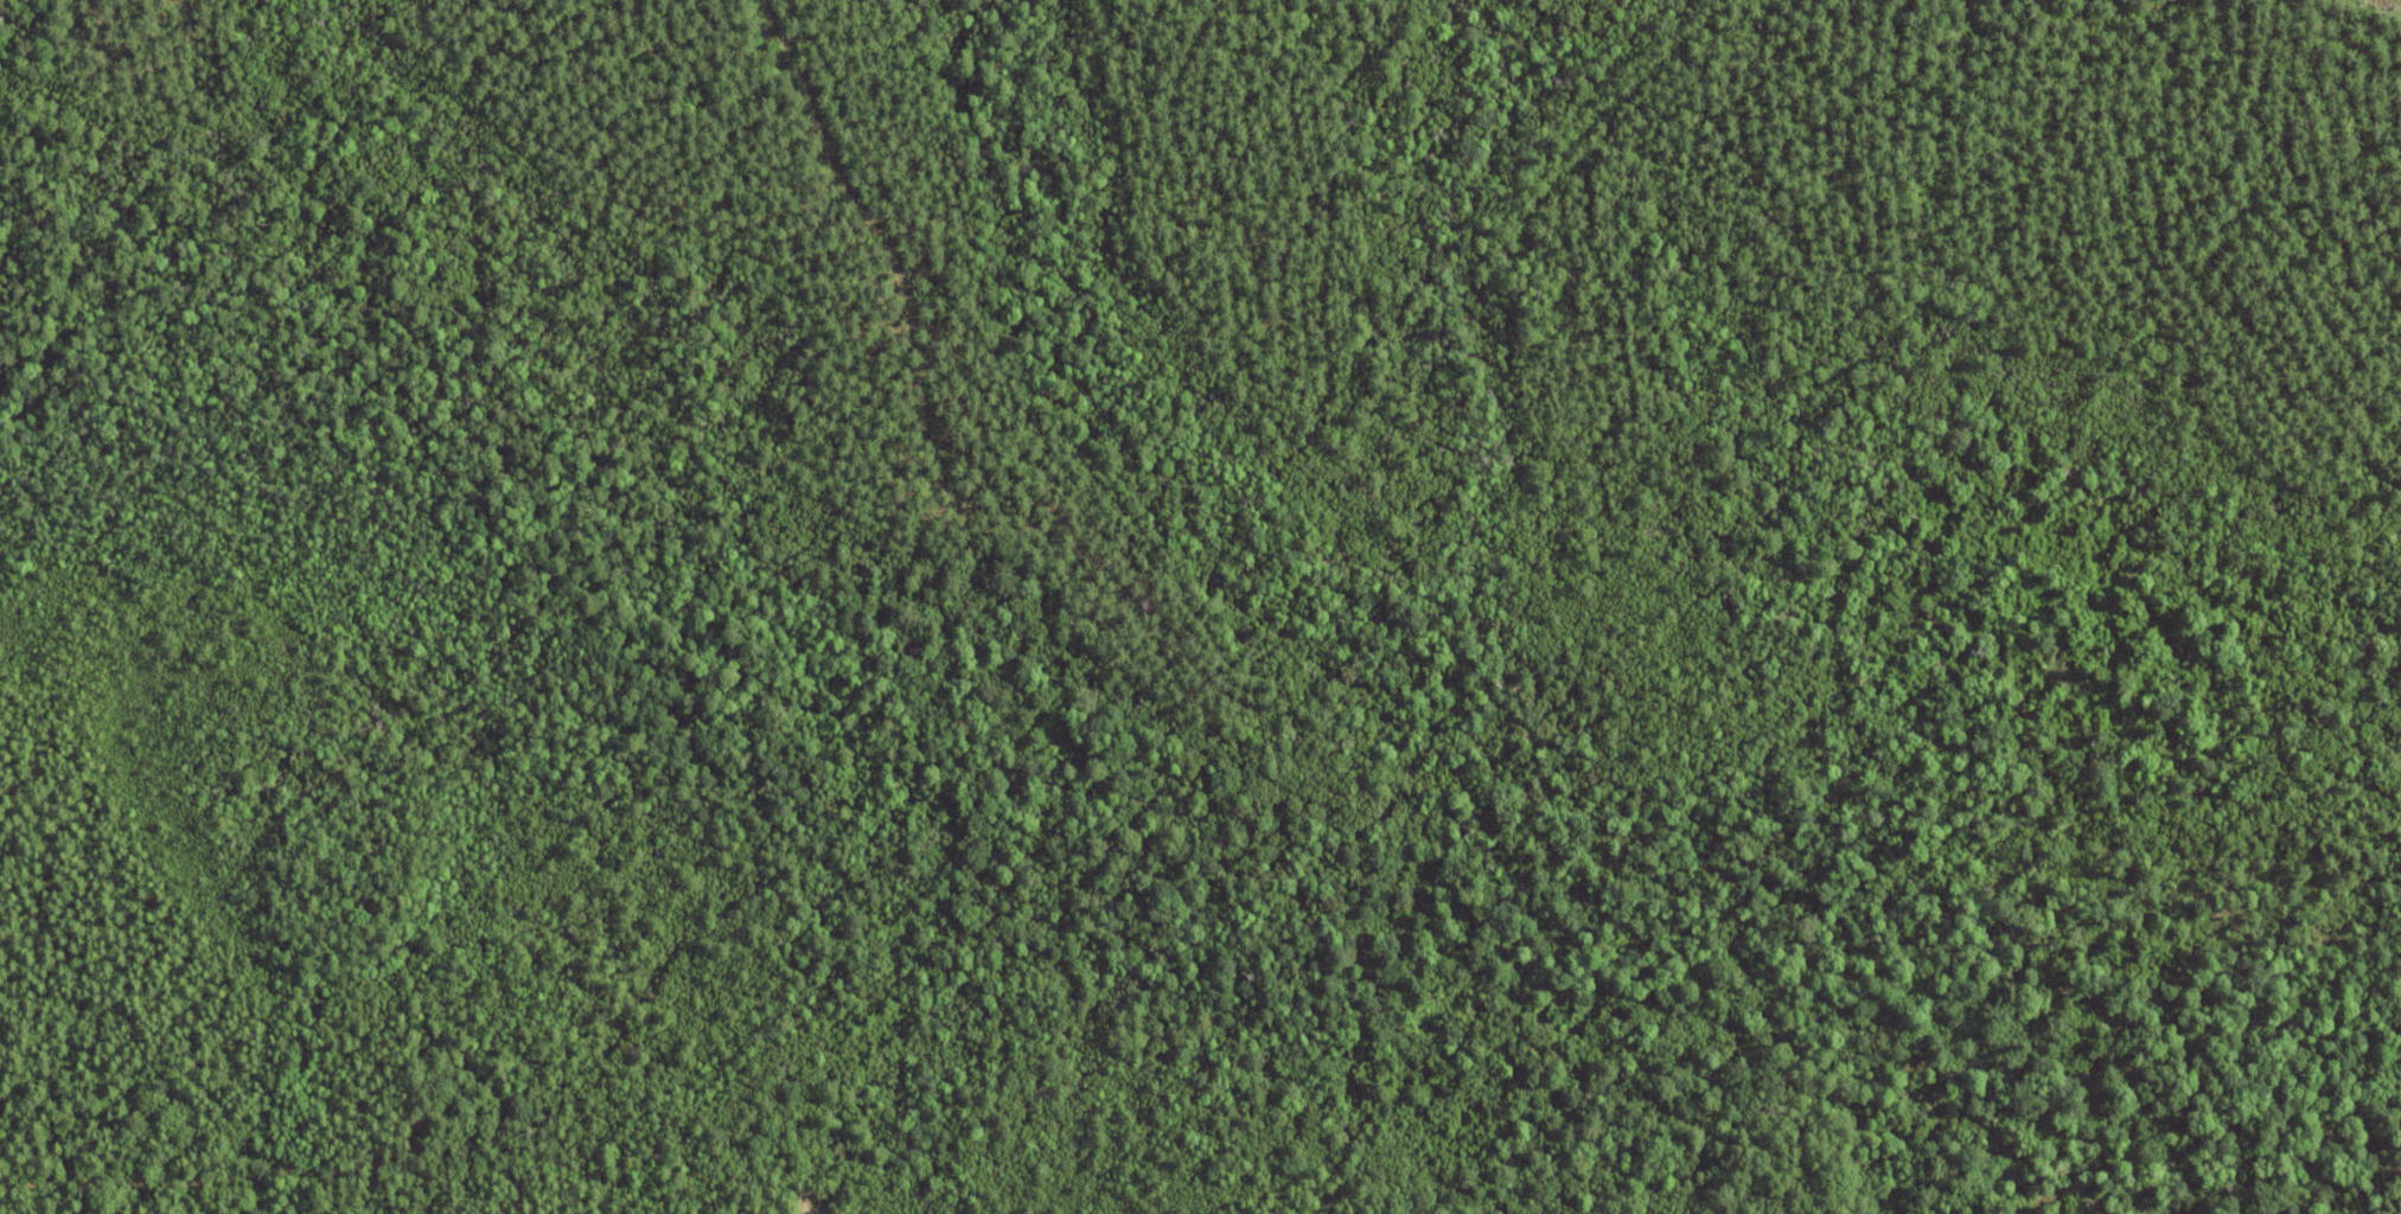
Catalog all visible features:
road: (2362, 46)
road: (869, 225)

